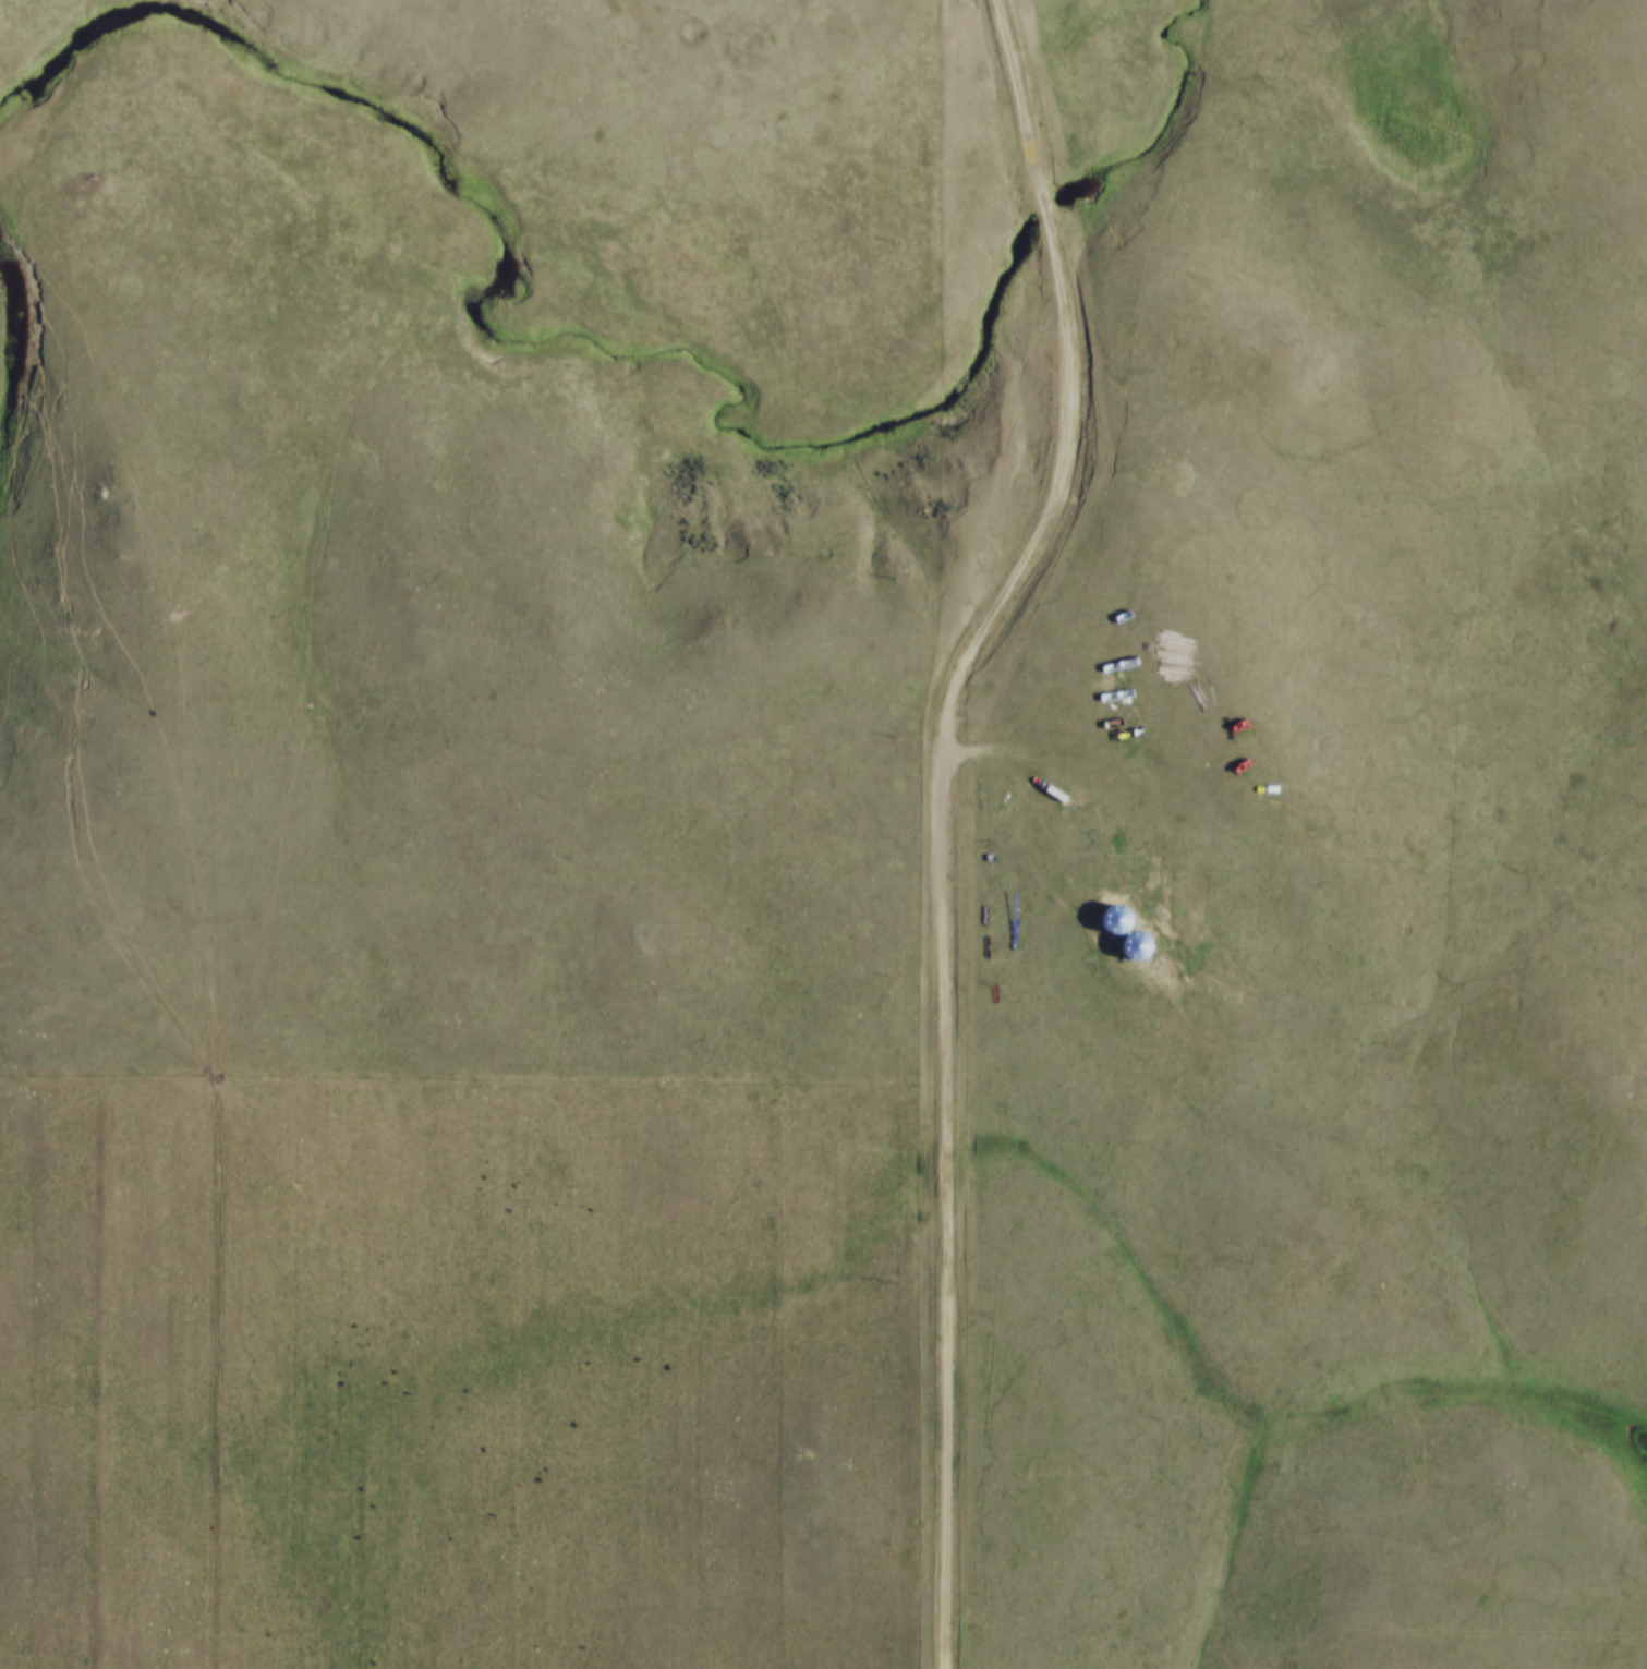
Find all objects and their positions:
road: (947, 815)

